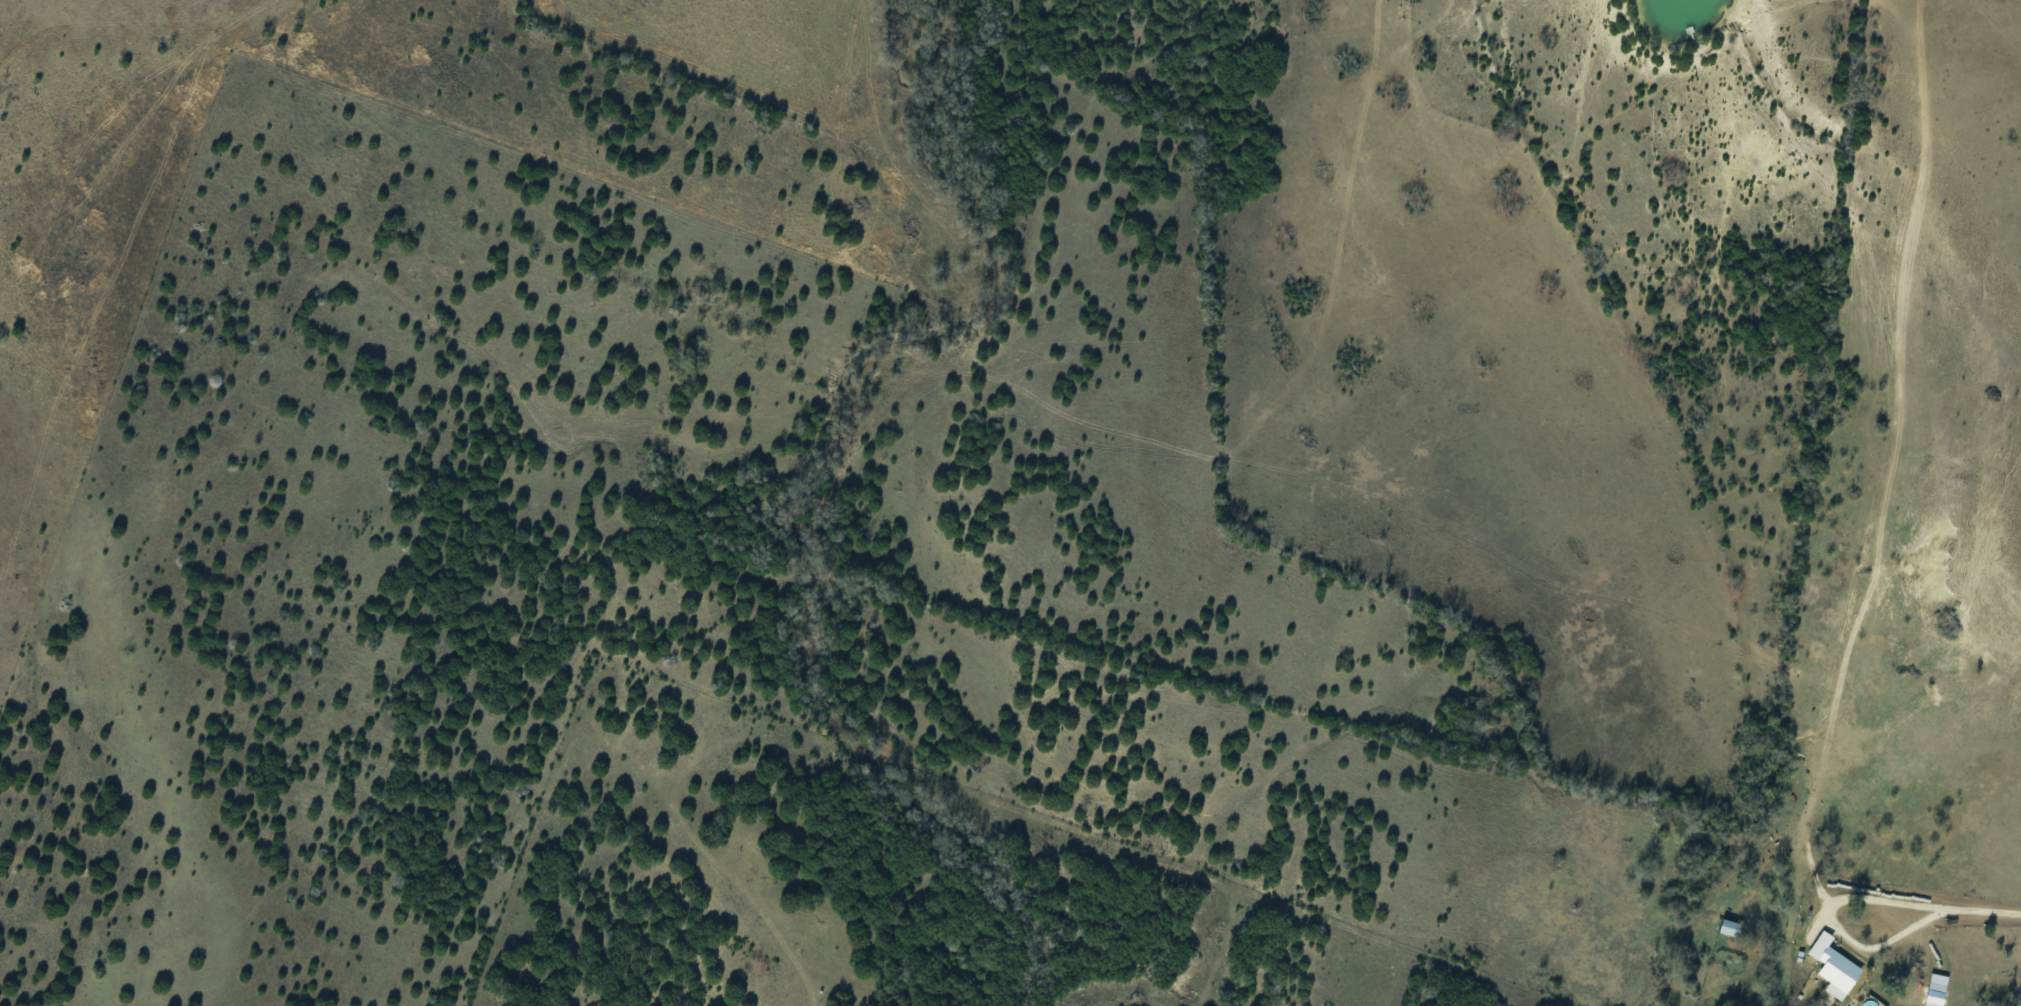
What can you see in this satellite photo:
building: (1729, 928)
building: (1834, 967)

